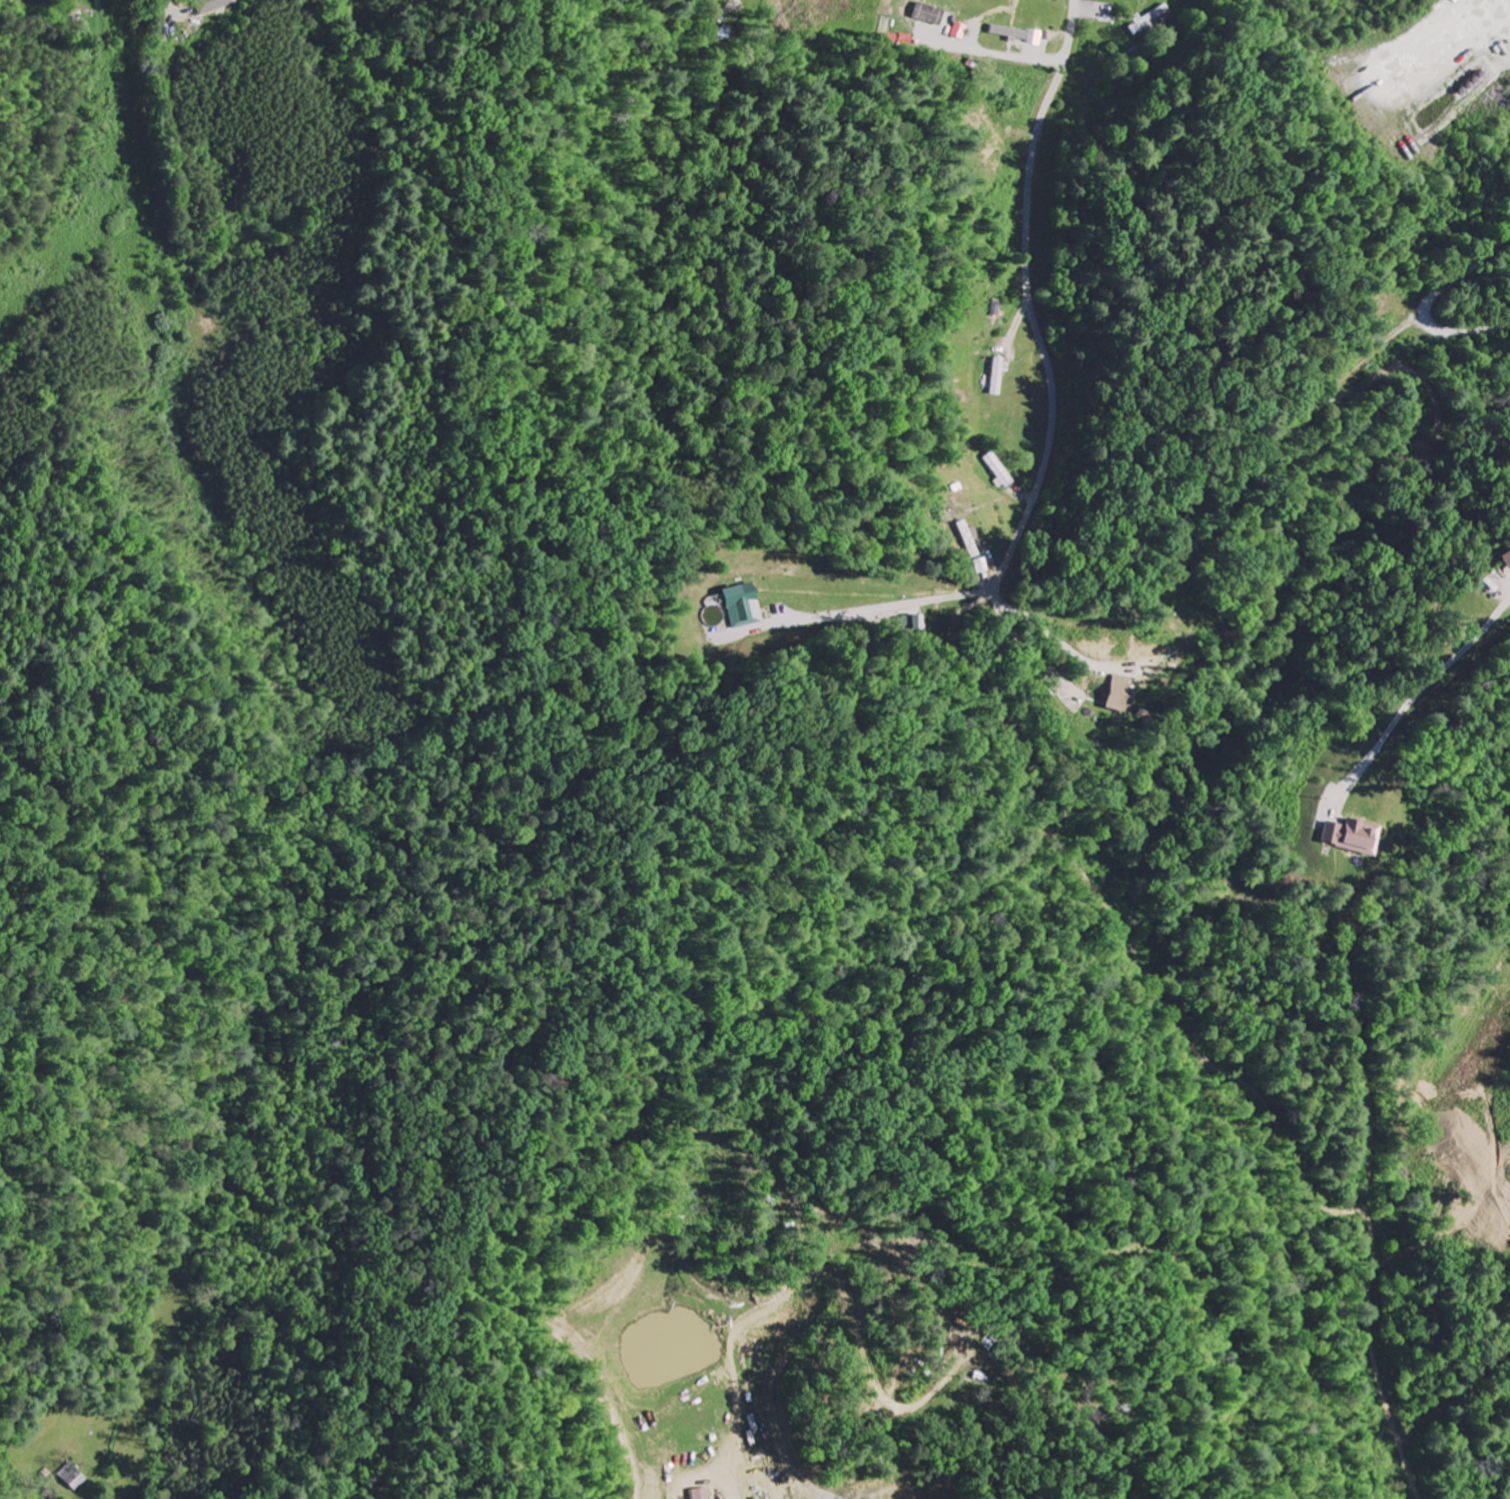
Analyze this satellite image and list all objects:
building: (216, 6)
building: (718, 34)
road: (141, 143)
road: (1428, 300)
building: (1000, 471)
road: (1003, 567)
building: (745, 607)
building: (917, 624)
road: (1426, 678)
building: (1125, 693)
road: (899, 742)
building: (1353, 836)
building: (75, 1477)
building: (704, 1494)

